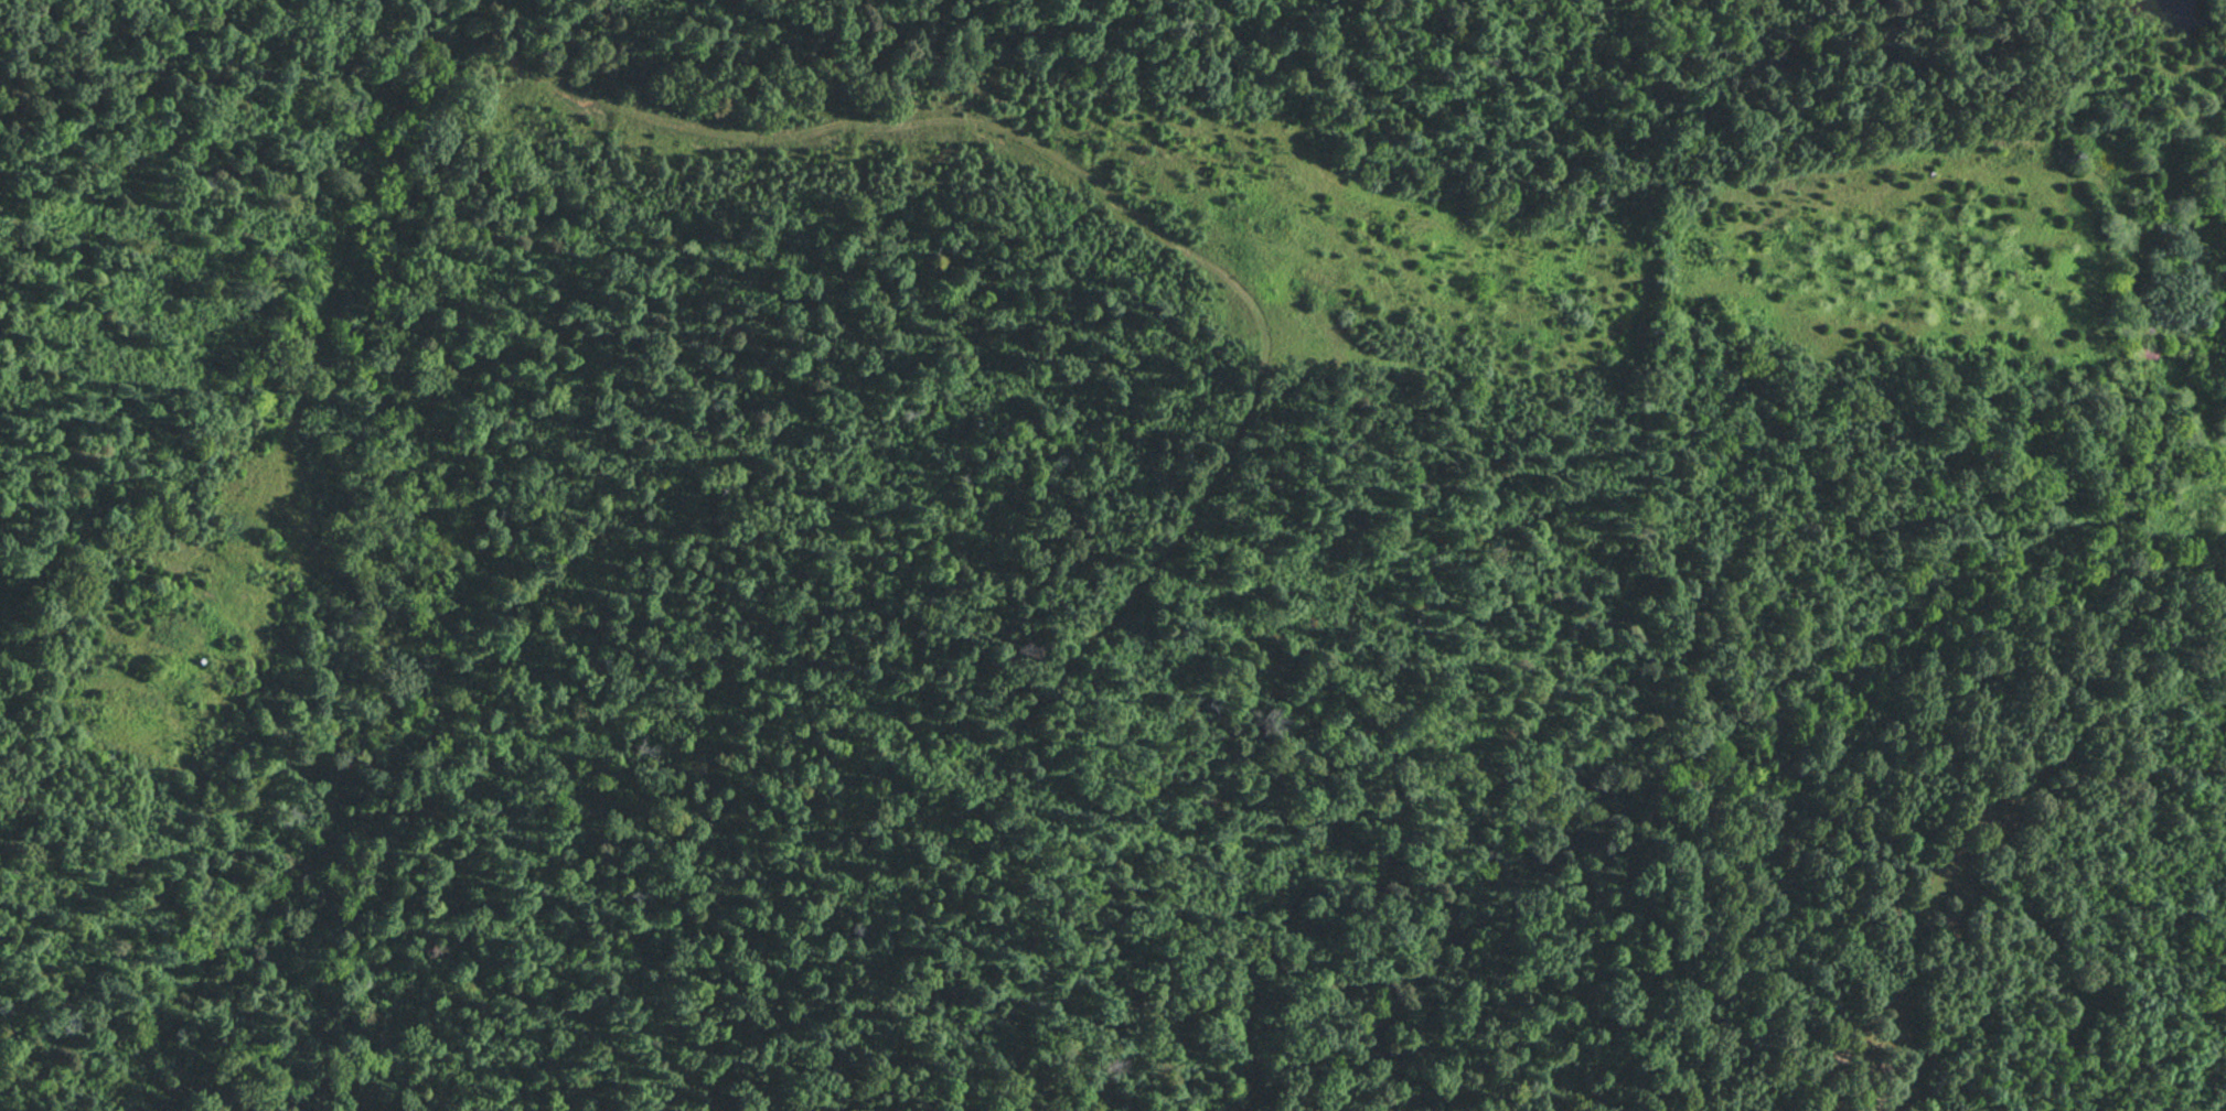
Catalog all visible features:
road: (2202, 240)

